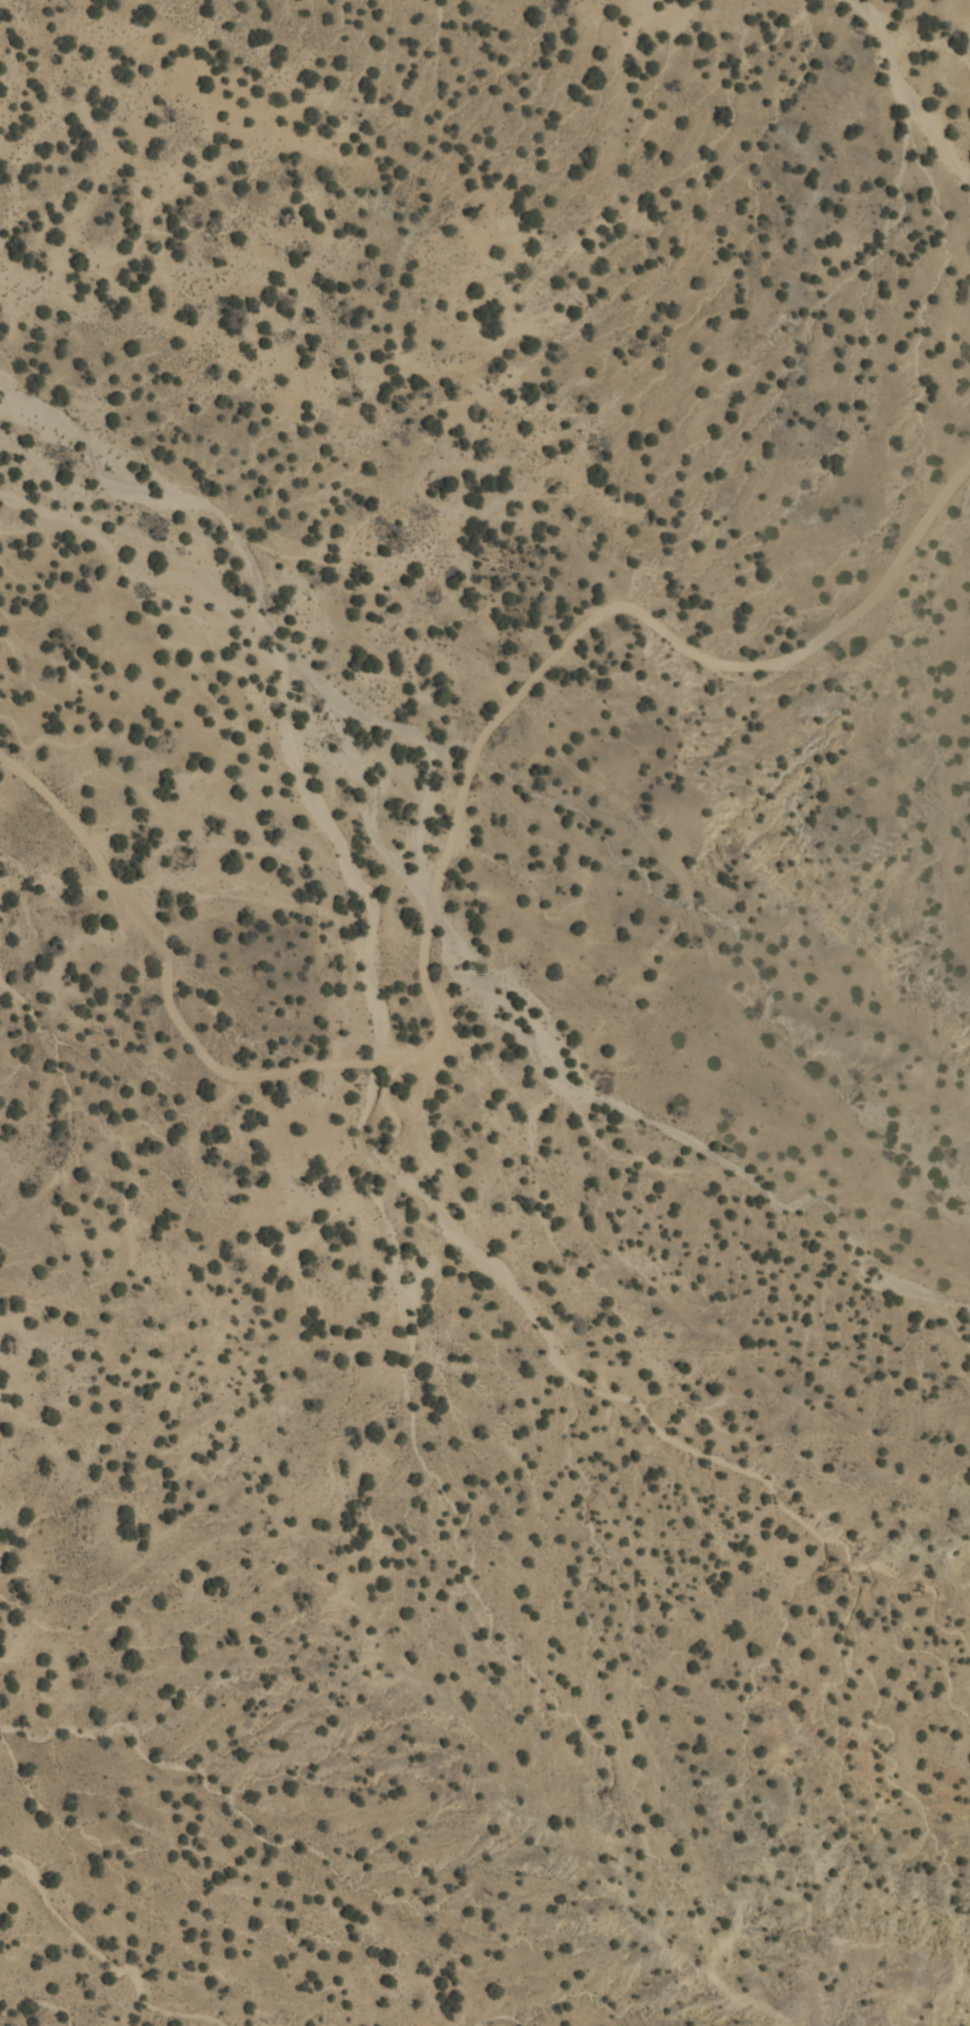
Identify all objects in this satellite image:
road: (821, 651)

